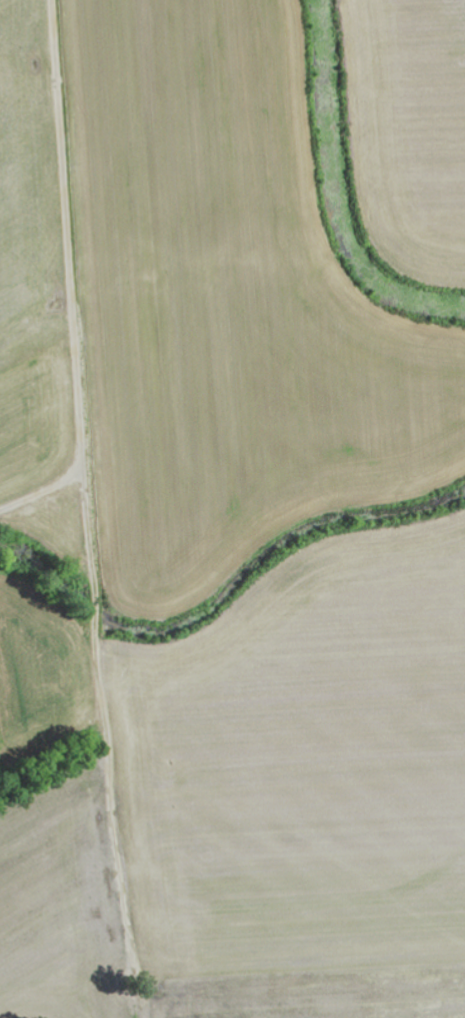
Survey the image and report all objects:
road: (70, 278)
road: (104, 723)

